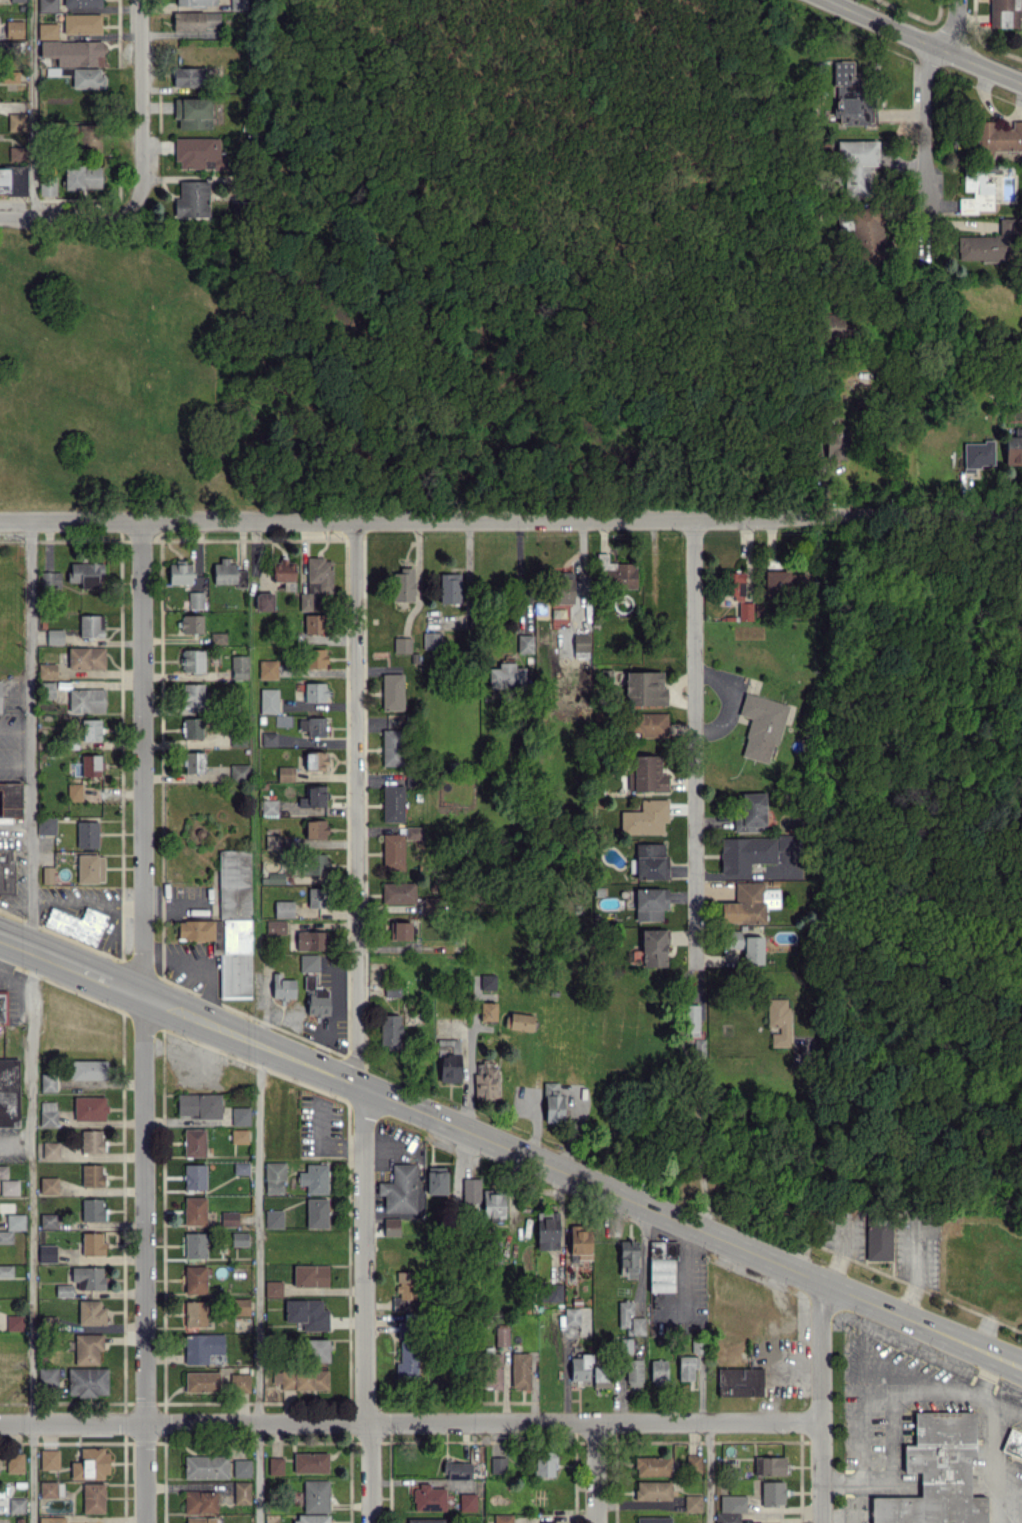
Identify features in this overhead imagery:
road: (922, 43)
road: (144, 101)
road: (926, 104)
road: (32, 106)
road: (71, 211)
road: (830, 395)
road: (511, 518)
road: (581, 570)
road: (14, 730)
road: (29, 735)
road: (692, 738)
road: (14, 765)
road: (358, 803)
road: (86, 904)
road: (106, 941)
road: (17, 943)
building: (308, 962)
building: (282, 986)
building: (317, 1001)
road: (174, 1009)
road: (331, 1018)
road: (142, 1022)
building: (387, 1026)
building: (449, 1069)
road: (472, 1070)
road: (15, 1143)
road: (668, 1217)
road: (30, 1236)
road: (640, 1254)
road: (259, 1283)
road: (365, 1304)
road: (820, 1402)
road: (998, 1402)
road: (892, 1412)
road: (410, 1423)
road: (708, 1472)
road: (596, 1473)

